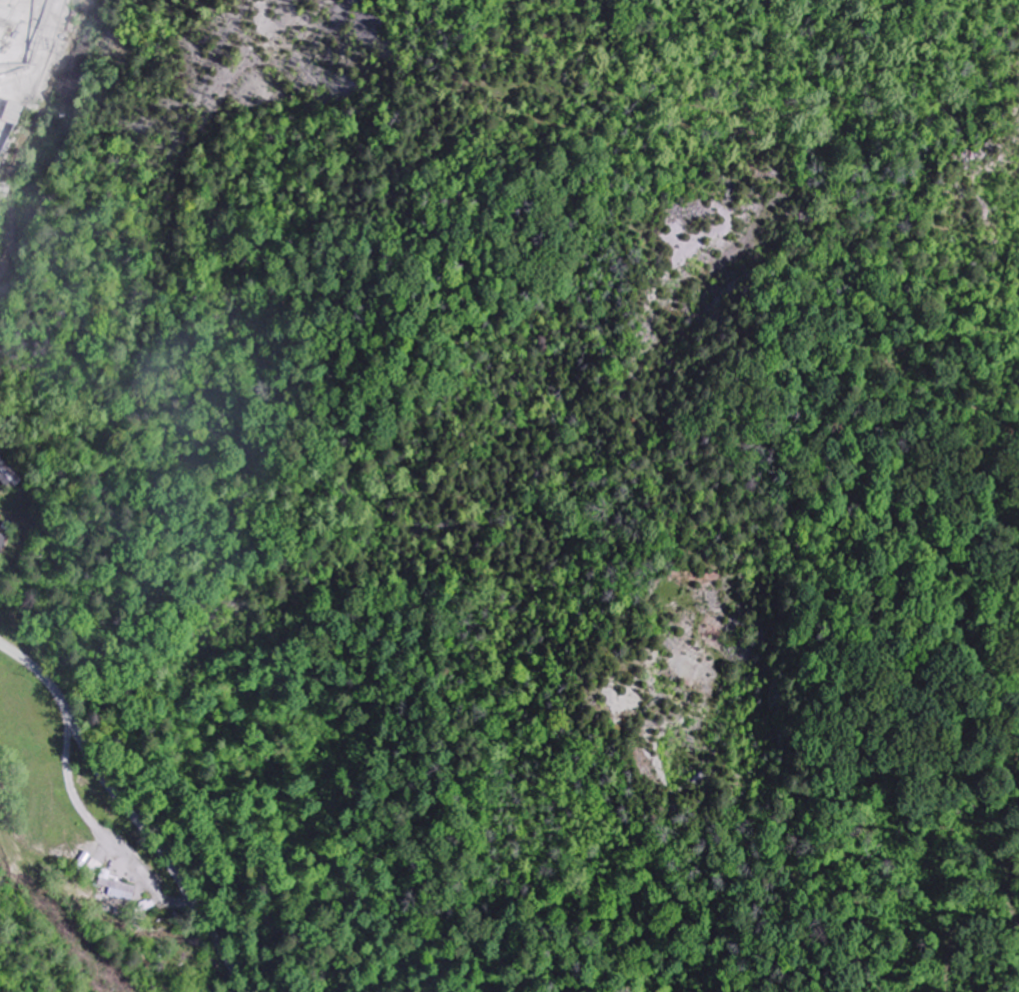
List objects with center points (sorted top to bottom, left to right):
building: (2, 543)
road: (132, 809)
building: (115, 890)

